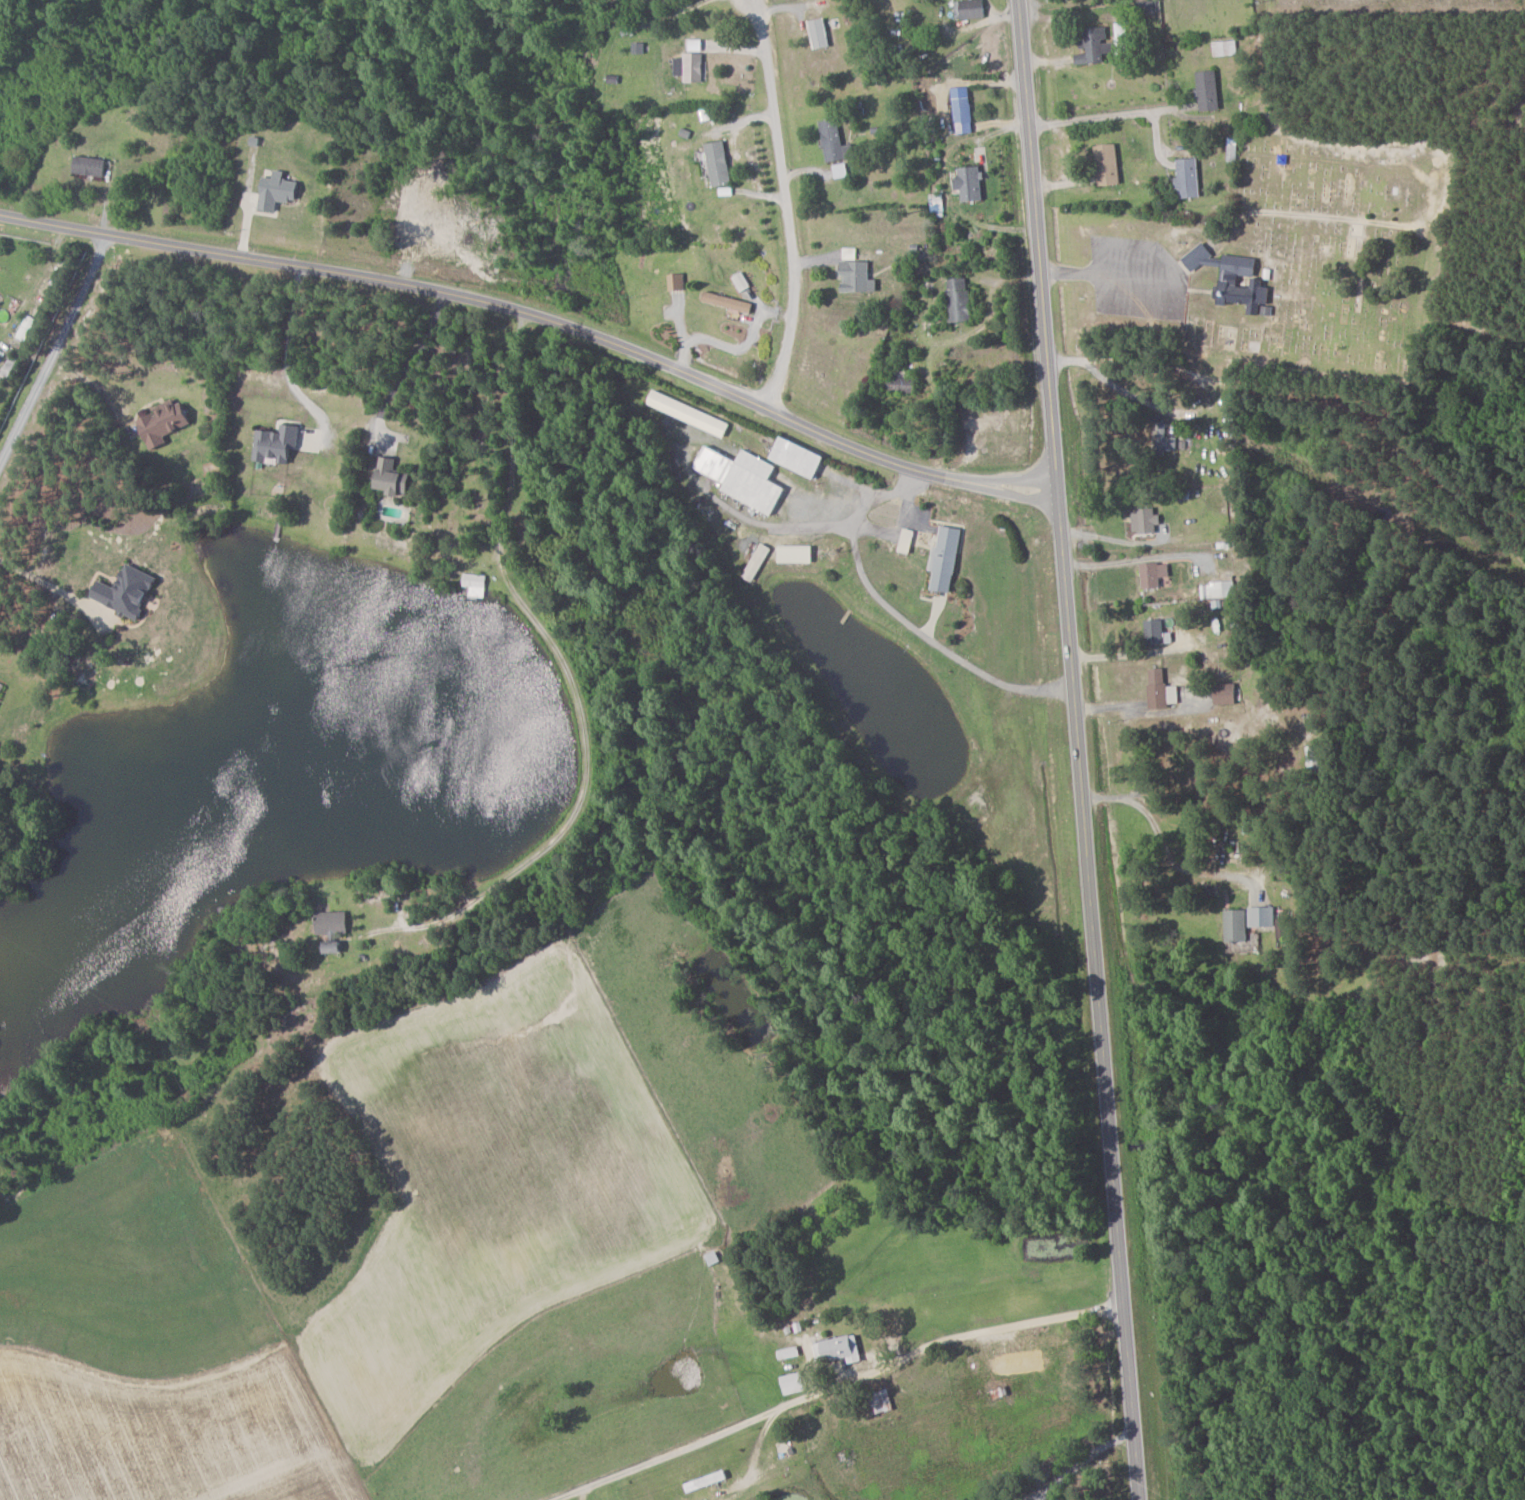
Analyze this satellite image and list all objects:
building: (971, 8)
building: (821, 33)
building: (1102, 44)
building: (691, 67)
building: (1209, 90)
building: (963, 110)
road: (1099, 120)
building: (836, 141)
building: (721, 163)
building: (1109, 164)
building: (90, 165)
building: (842, 170)
building: (1189, 177)
building: (972, 182)
building: (279, 191)
road: (790, 219)
building: (858, 276)
building: (677, 281)
building: (742, 282)
building: (1244, 284)
building: (961, 299)
building: (729, 301)
road: (540, 317)
building: (26, 328)
road: (53, 348)
road: (401, 367)
road: (1312, 399)
building: (691, 414)
building: (166, 423)
road: (1053, 435)
building: (1167, 441)
building: (279, 444)
building: (802, 457)
building: (394, 477)
building: (745, 477)
building: (1147, 521)
building: (908, 540)
building: (799, 554)
road: (1151, 557)
building: (947, 559)
building: (759, 562)
road: (1070, 564)
road: (1085, 565)
building: (1154, 575)
building: (475, 584)
road: (52, 589)
building: (1218, 590)
building: (129, 591)
road: (900, 616)
building: (1157, 631)
road: (573, 684)
building: (0, 688)
building: (1228, 693)
building: (0, 700)
road: (1164, 855)
building: (1247, 922)
building: (334, 924)
building: (334, 947)
road: (1113, 1185)
building: (840, 1350)
building: (793, 1383)
road: (834, 1385)

